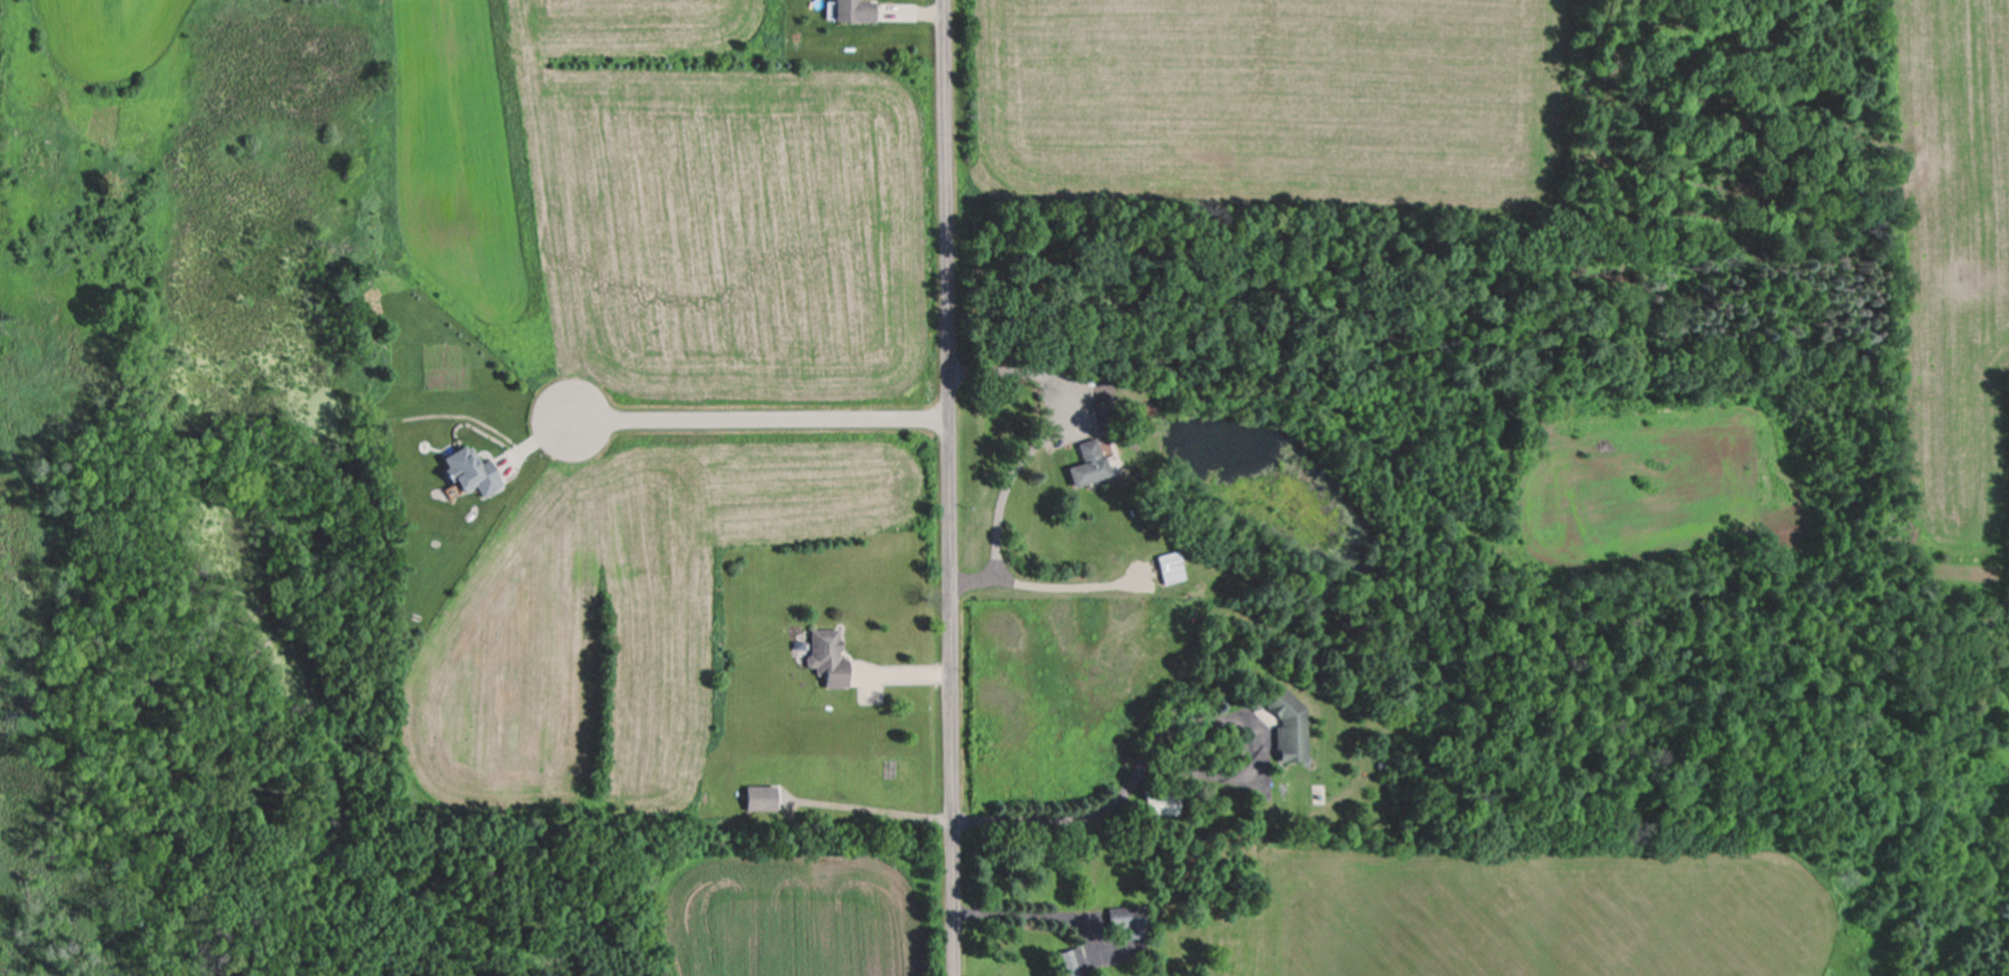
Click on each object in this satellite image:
building: (853, 11)
road: (759, 418)
building: (1088, 464)
building: (470, 471)
road: (950, 488)
road: (1000, 498)
building: (1171, 567)
road: (1068, 583)
building: (827, 658)
road: (901, 670)
building: (1290, 728)
road: (1156, 734)
building: (760, 798)
road: (1029, 912)
building: (1127, 917)
building: (1074, 961)

